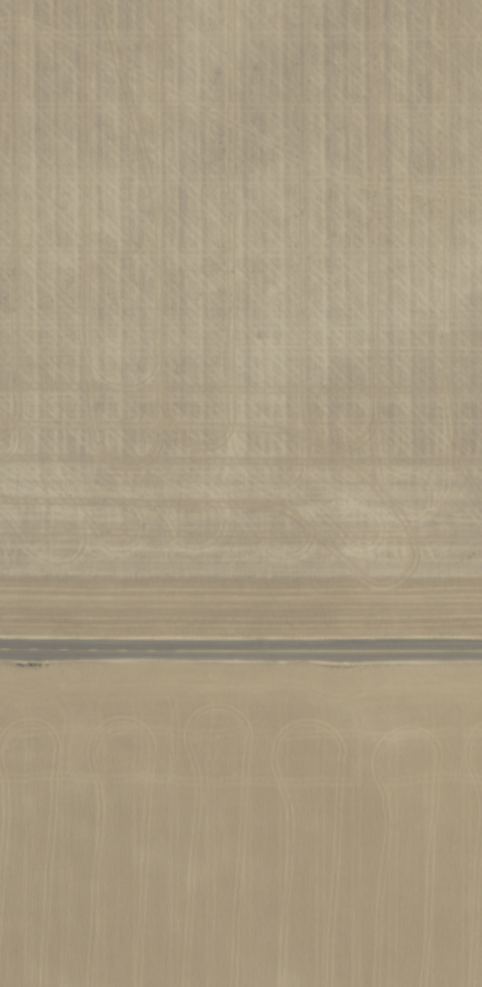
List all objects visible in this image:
road: (240, 649)

